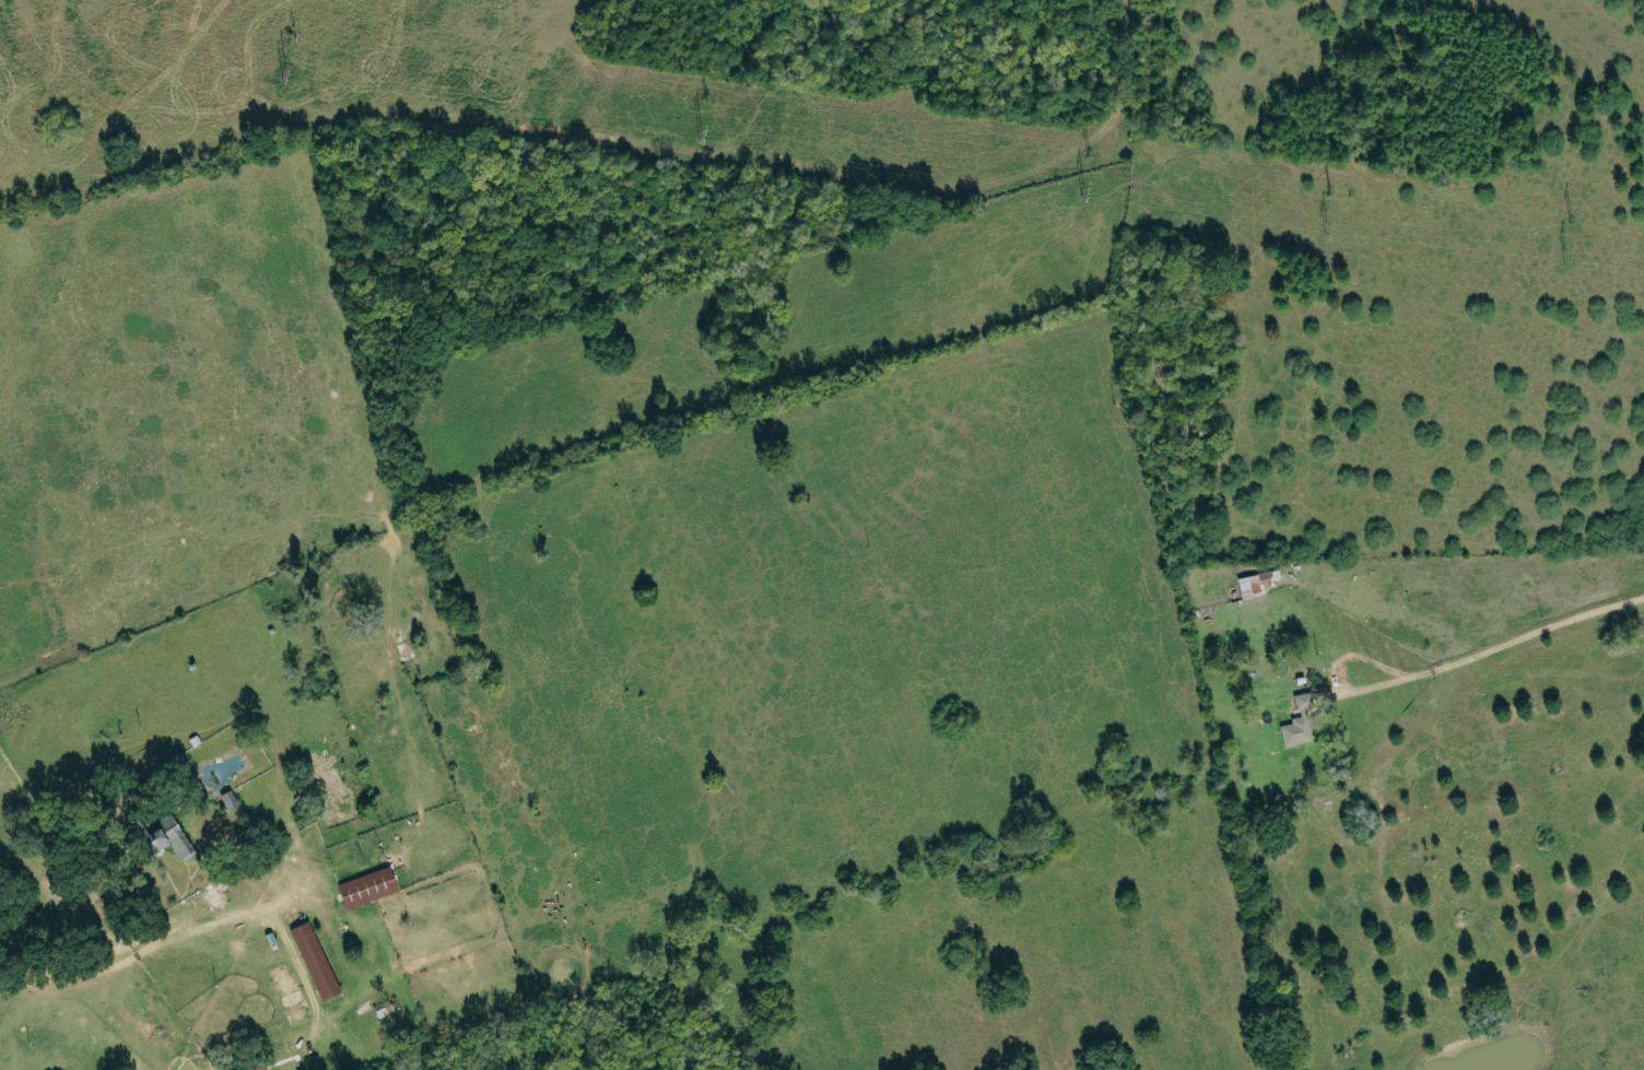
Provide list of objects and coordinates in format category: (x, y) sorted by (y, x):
power tower: (281, 71)
power tower: (702, 134)
power tower: (1083, 191)
power tower: (1326, 227)
power tower: (1567, 256)
building: (1256, 583)
road: (1525, 636)
road: (1337, 672)
building: (1297, 724)
building: (228, 799)
building: (161, 837)
building: (366, 886)
road: (187, 921)
building: (314, 960)
building: (289, 993)

